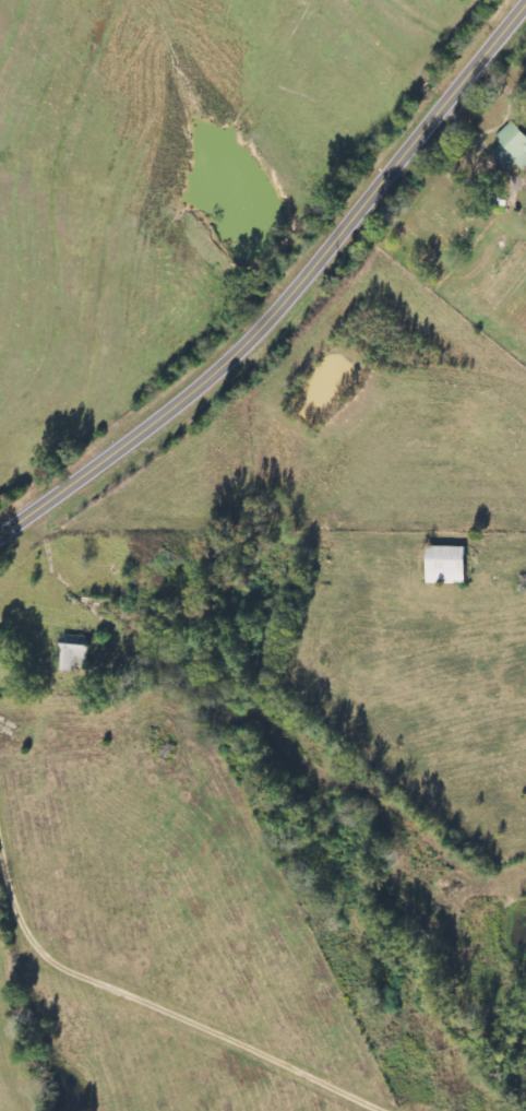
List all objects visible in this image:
building: (512, 147)
road: (288, 297)
building: (446, 566)
building: (75, 653)

